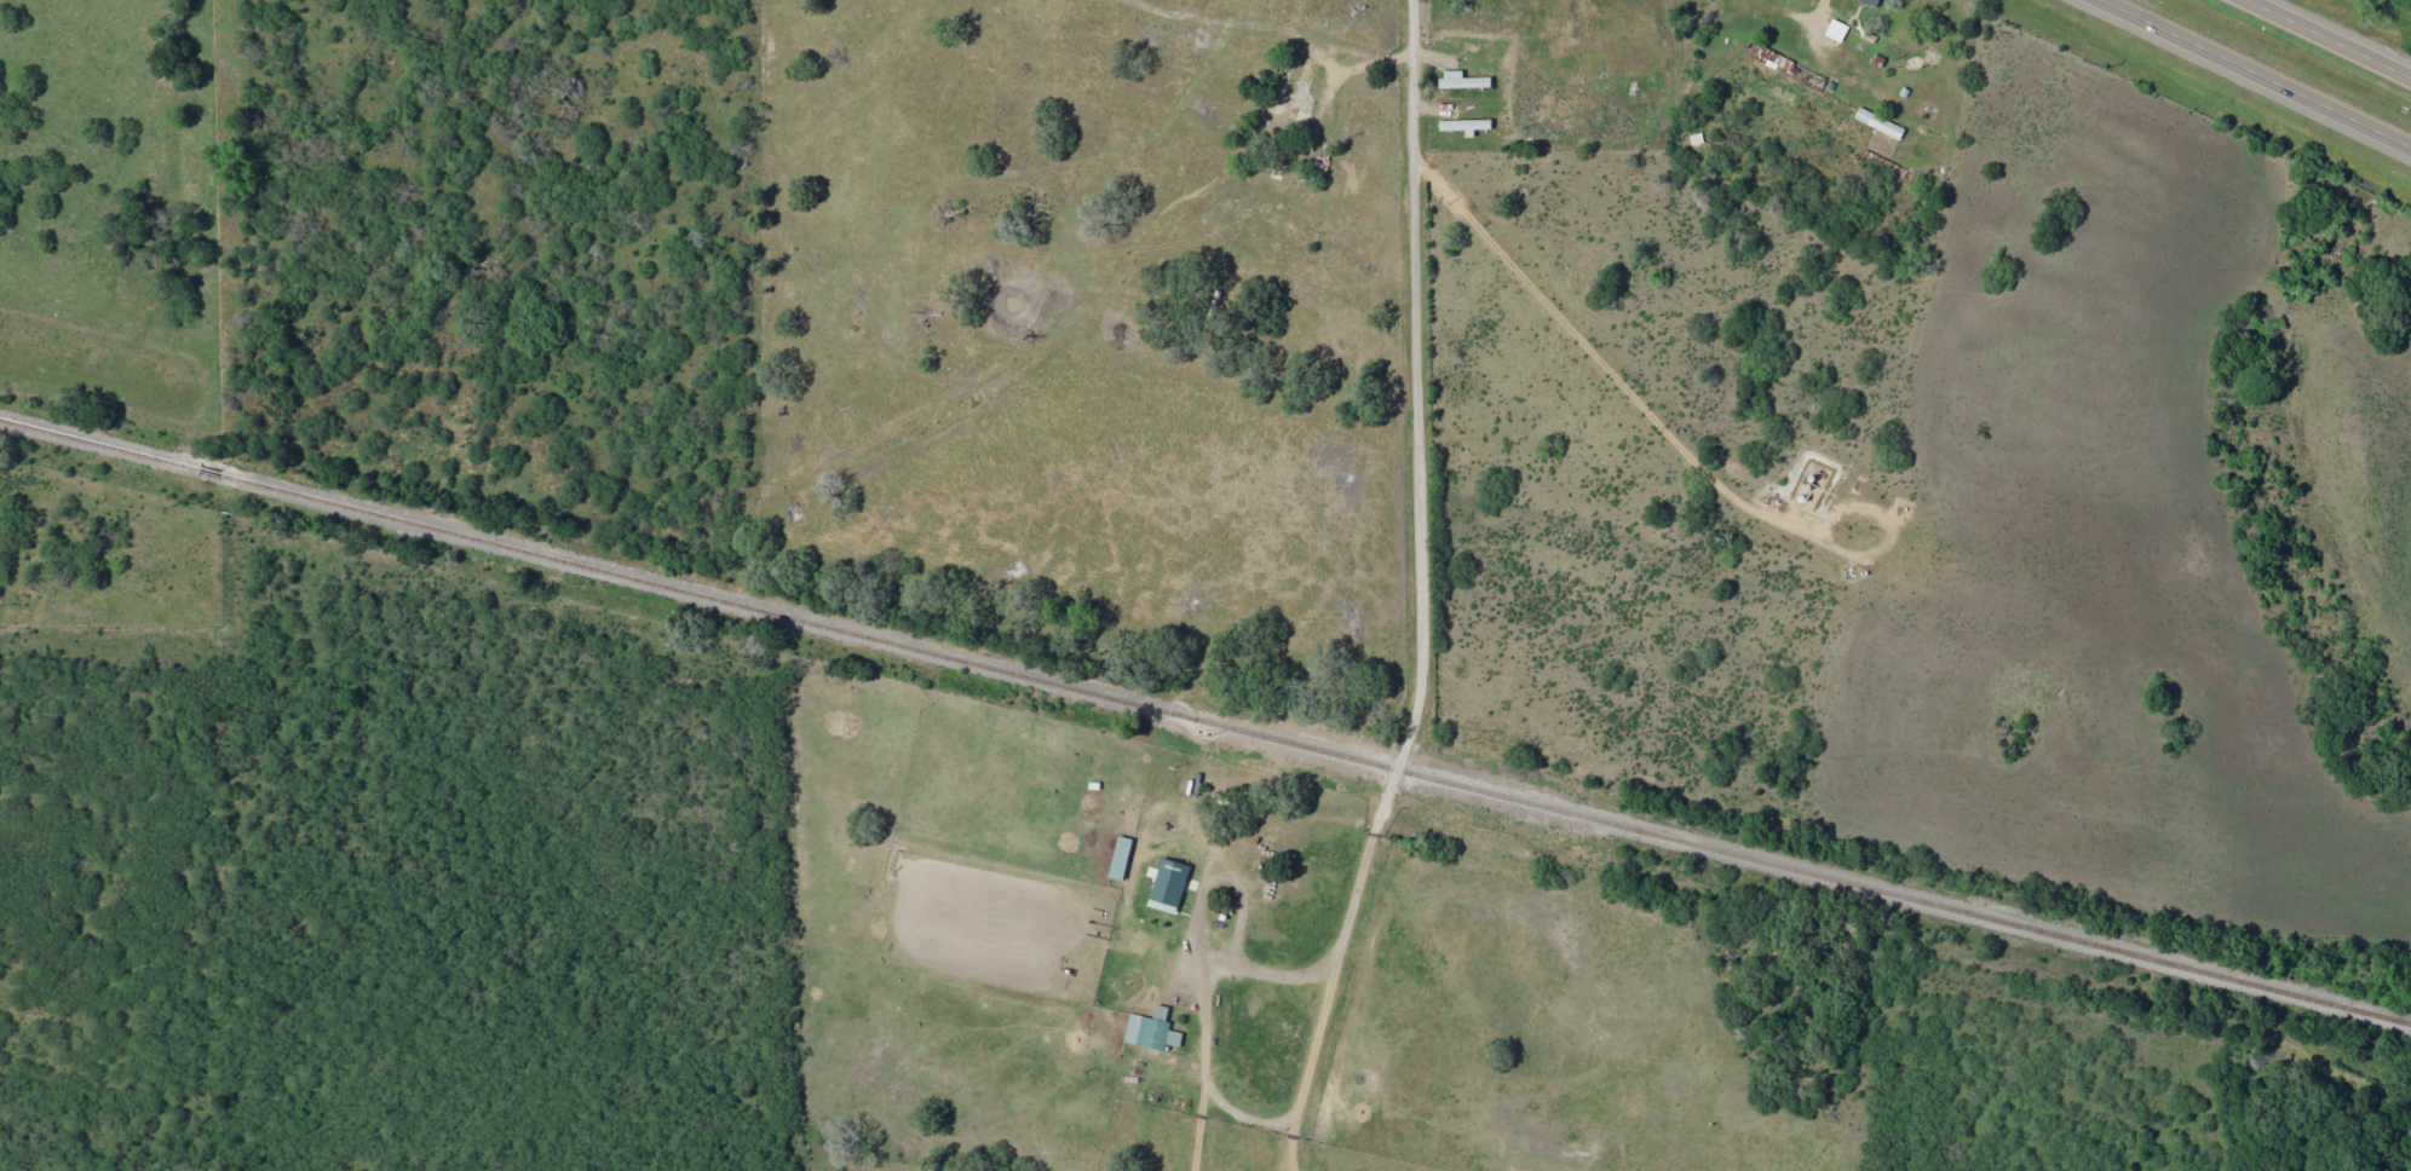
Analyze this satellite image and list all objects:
building: (1870, 2)
road: (893, 16)
road: (2003, 24)
building: (1836, 31)
road: (2336, 36)
road: (2043, 51)
road: (2257, 73)
building: (1462, 81)
building: (1880, 125)
building: (1465, 126)
road: (312, 132)
building: (1875, 160)
road: (1415, 486)
railway: (1204, 722)
building: (1120, 858)
building: (1168, 886)
building: (1151, 1031)

